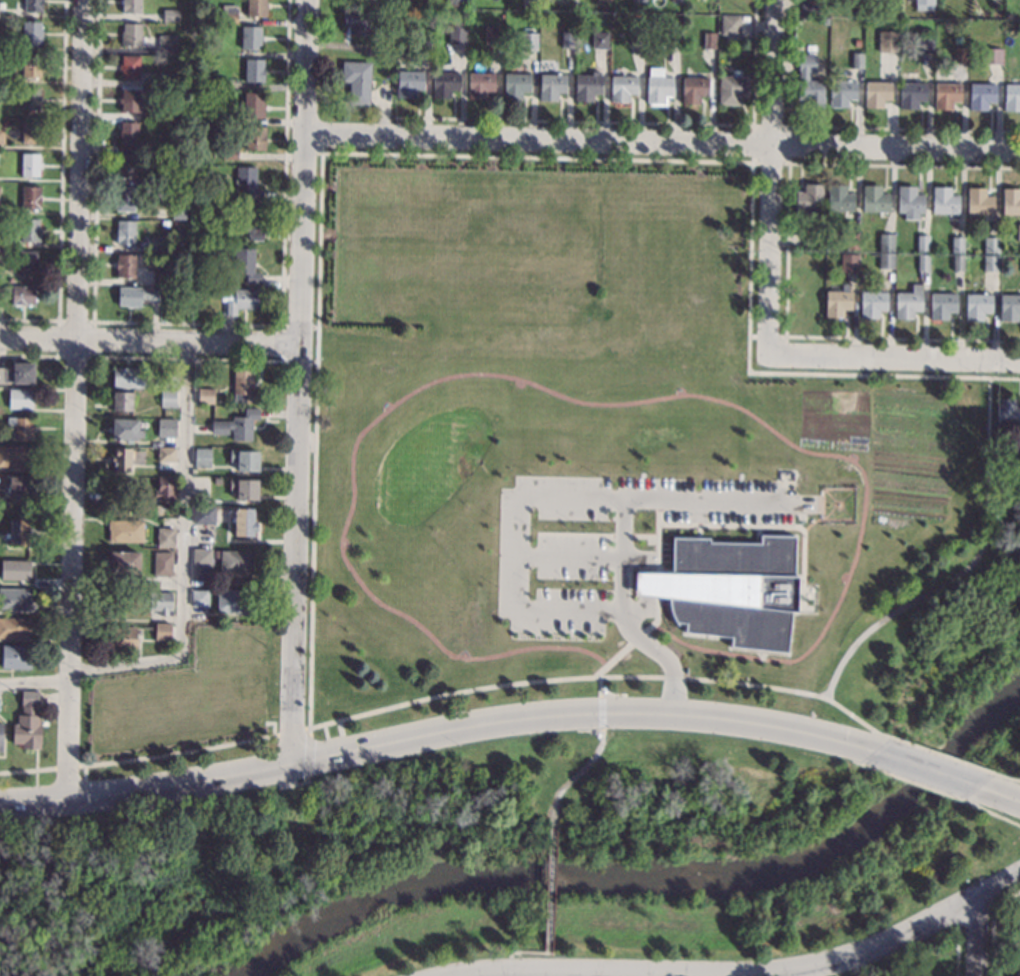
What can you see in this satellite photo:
building: (603, 0)
building: (640, 0)
building: (675, 0)
building: (923, 2)
building: (428, 3)
building: (445, 3)
building: (531, 3)
building: (33, 5)
building: (570, 6)
building: (809, 6)
building: (131, 7)
building: (256, 8)
building: (927, 9)
building: (229, 14)
building: (171, 15)
building: (816, 19)
building: (357, 21)
building: (730, 25)
building: (197, 28)
building: (31, 34)
building: (131, 35)
building: (457, 35)
building: (492, 35)
building: (636, 35)
building: (672, 37)
building: (251, 38)
building: (566, 39)
building: (600, 40)
building: (708, 40)
building: (957, 40)
building: (528, 41)
building: (888, 41)
building: (857, 42)
building: (924, 42)
building: (167, 45)
building: (423, 48)
building: (384, 50)
building: (959, 55)
building: (992, 56)
building: (856, 60)
building: (31, 66)
building: (129, 67)
building: (253, 70)
building: (180, 77)
building: (166, 79)
building: (356, 81)
building: (809, 82)
building: (408, 83)
building: (444, 83)
building: (222, 84)
building: (479, 85)
building: (514, 85)
building: (550, 86)
building: (587, 86)
building: (657, 87)
building: (622, 88)
building: (693, 89)
building: (732, 89)
building: (841, 92)
building: (197, 94)
building: (876, 94)
building: (911, 94)
building: (946, 95)
building: (981, 96)
building: (29, 98)
building: (1012, 98)
building: (129, 101)
building: (253, 105)
building: (30, 132)
building: (128, 133)
building: (1, 136)
building: (255, 138)
building: (154, 148)
road: (663, 150)
building: (229, 154)
building: (30, 165)
building: (126, 166)
road: (306, 176)
road: (774, 179)
building: (157, 180)
building: (248, 182)
building: (30, 197)
building: (839, 198)
building: (124, 199)
building: (873, 199)
building: (809, 201)
building: (943, 201)
building: (909, 202)
building: (979, 202)
building: (1010, 202)
building: (179, 210)
building: (248, 223)
building: (30, 230)
building: (125, 232)
building: (1018, 233)
building: (852, 241)
building: (812, 242)
building: (886, 242)
building: (922, 243)
building: (161, 244)
building: (957, 244)
building: (991, 245)
building: (197, 258)
building: (886, 260)
building: (922, 262)
building: (957, 262)
building: (990, 262)
building: (27, 263)
building: (849, 263)
building: (245, 264)
building: (125, 266)
building: (161, 277)
building: (806, 292)
building: (18, 294)
building: (136, 295)
building: (242, 301)
building: (837, 301)
building: (872, 303)
building: (907, 303)
building: (941, 305)
building: (977, 306)
building: (1009, 307)
building: (209, 317)
building: (461, 323)
road: (81, 335)
road: (151, 350)
road: (896, 360)
building: (17, 373)
building: (130, 378)
building: (169, 378)
building: (244, 386)
building: (205, 396)
building: (167, 398)
road: (571, 398)
building: (21, 399)
building: (121, 401)
building: (1007, 412)
building: (236, 425)
building: (21, 426)
building: (166, 428)
building: (125, 430)
building: (166, 454)
building: (1016, 454)
building: (16, 456)
building: (126, 458)
building: (202, 458)
building: (244, 460)
building: (18, 487)
building: (165, 488)
building: (244, 489)
road: (583, 497)
road: (709, 502)
building: (174, 504)
road: (184, 504)
building: (203, 514)
building: (243, 522)
building: (125, 531)
building: (19, 532)
building: (166, 537)
building: (201, 557)
road: (296, 557)
building: (123, 562)
building: (238, 562)
road: (972, 562)
building: (162, 564)
building: (15, 569)
building: (729, 589)
building: (199, 598)
building: (14, 599)
building: (236, 601)
building: (161, 603)
road: (656, 616)
building: (13, 628)
building: (162, 631)
building: (122, 638)
park: (929, 646)
building: (14, 657)
road: (124, 664)
road: (70, 676)
road: (599, 679)
road: (35, 682)
road: (605, 695)
road: (739, 718)
road: (504, 720)
building: (27, 722)
road: (309, 731)
road: (289, 732)
building: (0, 733)
road: (67, 739)
park: (1000, 752)
road: (176, 753)
road: (857, 754)
road: (307, 756)
road: (942, 756)
road: (65, 766)
road: (582, 768)
road: (925, 769)
road: (27, 770)
road: (205, 778)
road: (1007, 778)
road: (84, 780)
road: (909, 782)
road: (295, 784)
road: (999, 794)
road: (991, 813)
park: (509, 868)
river: (655, 881)
road: (549, 886)
road: (973, 934)
road: (516, 952)
building: (1017, 970)
road: (749, 972)

